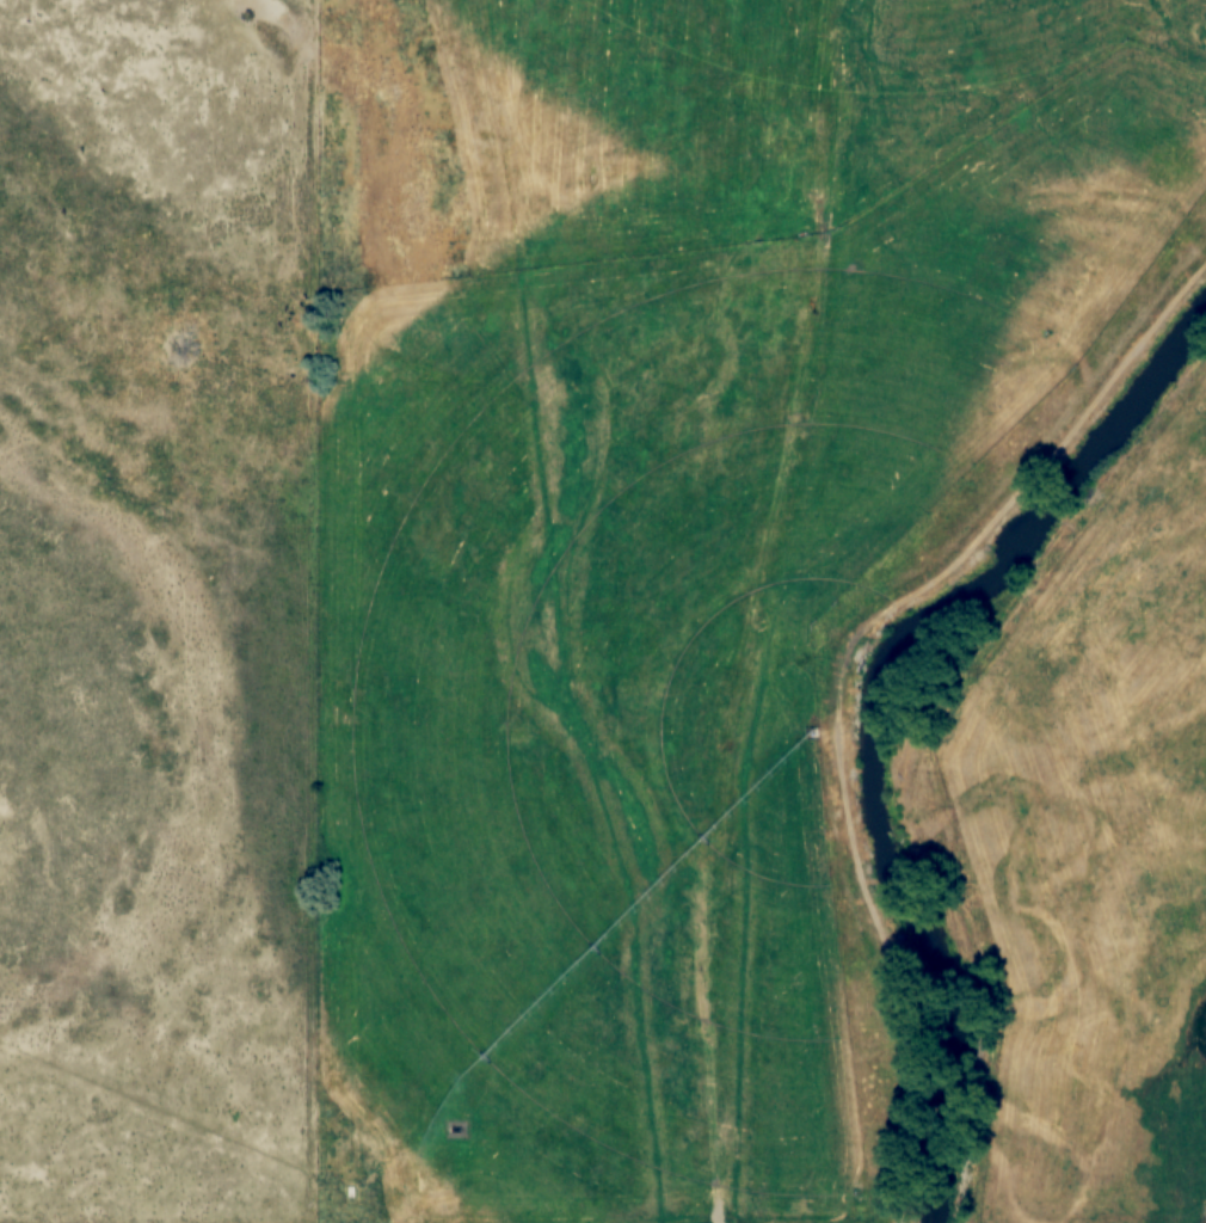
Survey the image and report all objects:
river: (878, 711)

